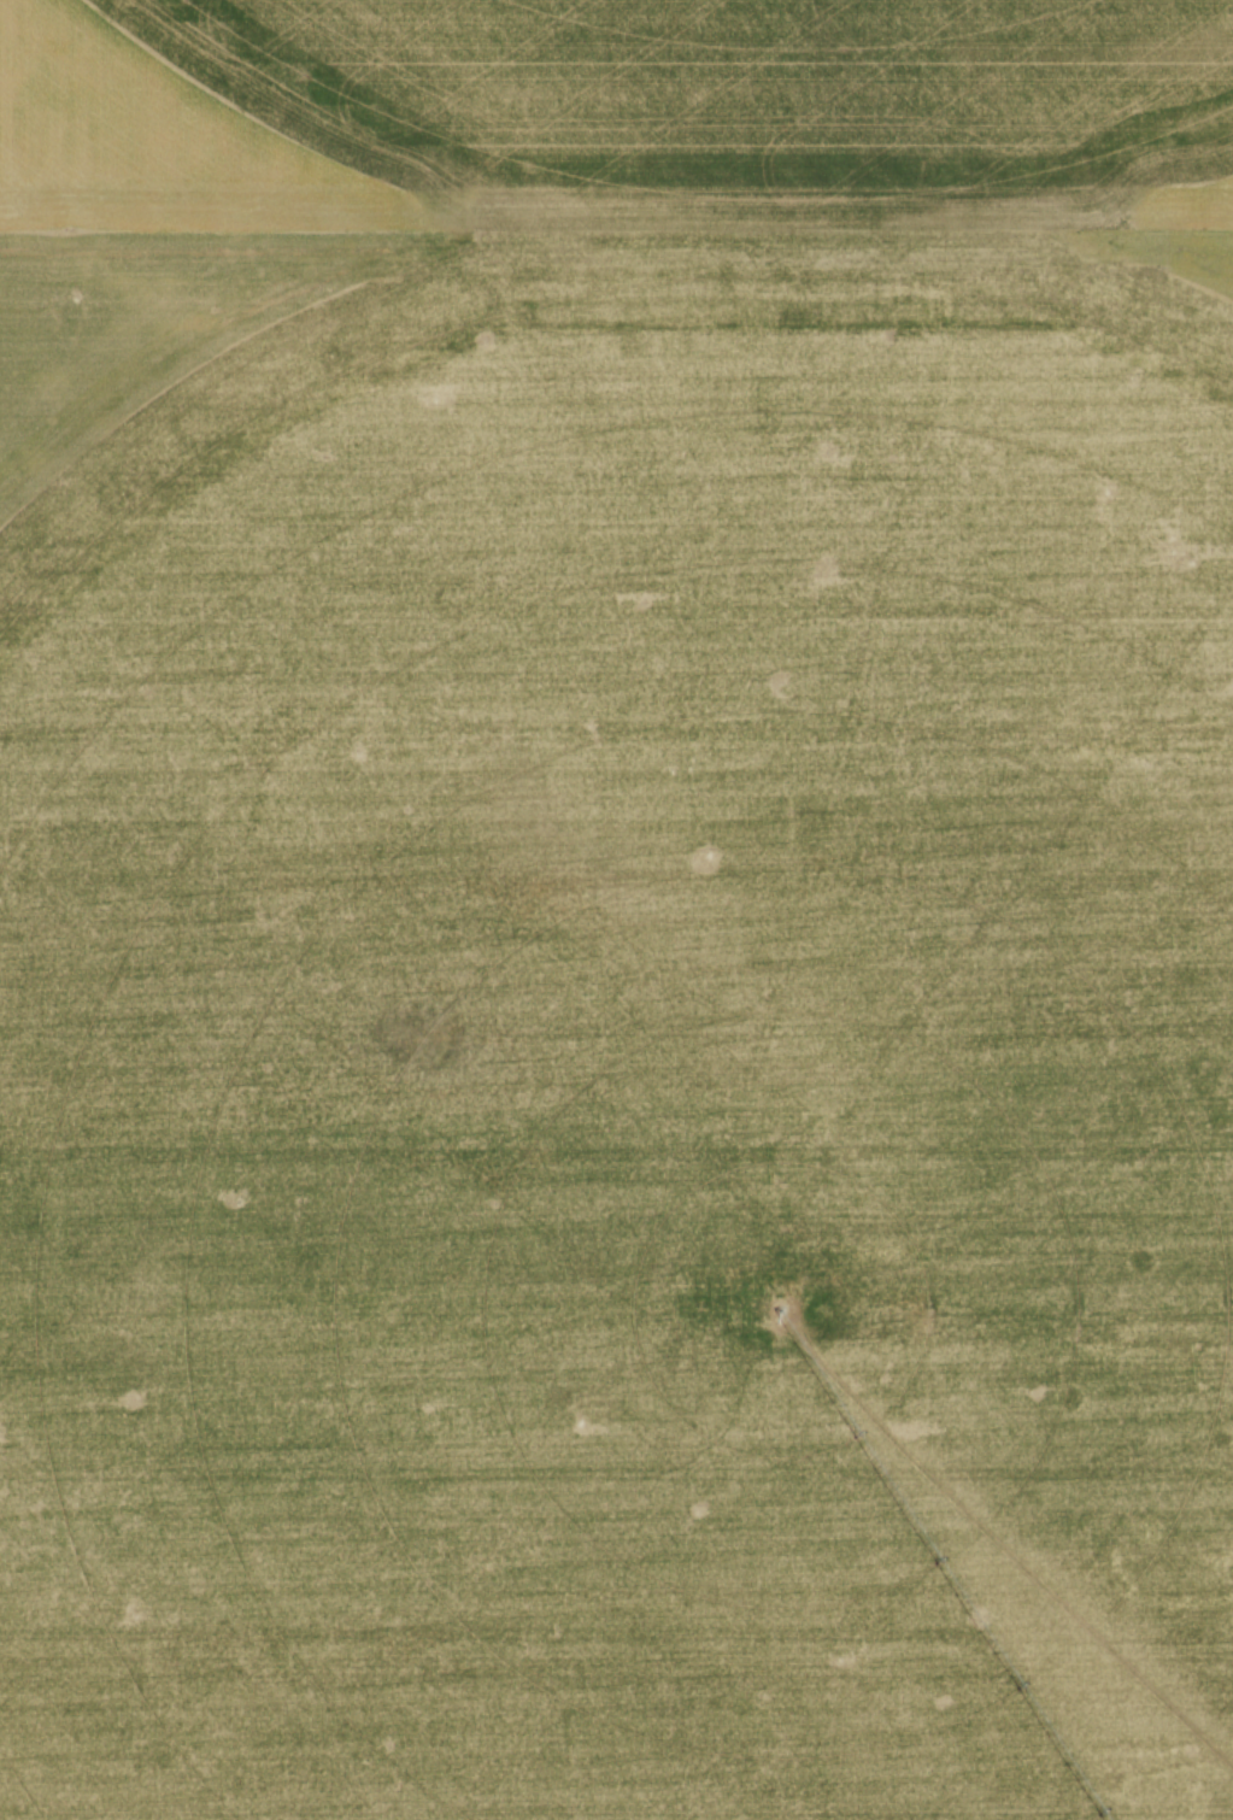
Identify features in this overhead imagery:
crop: (607, 896)

